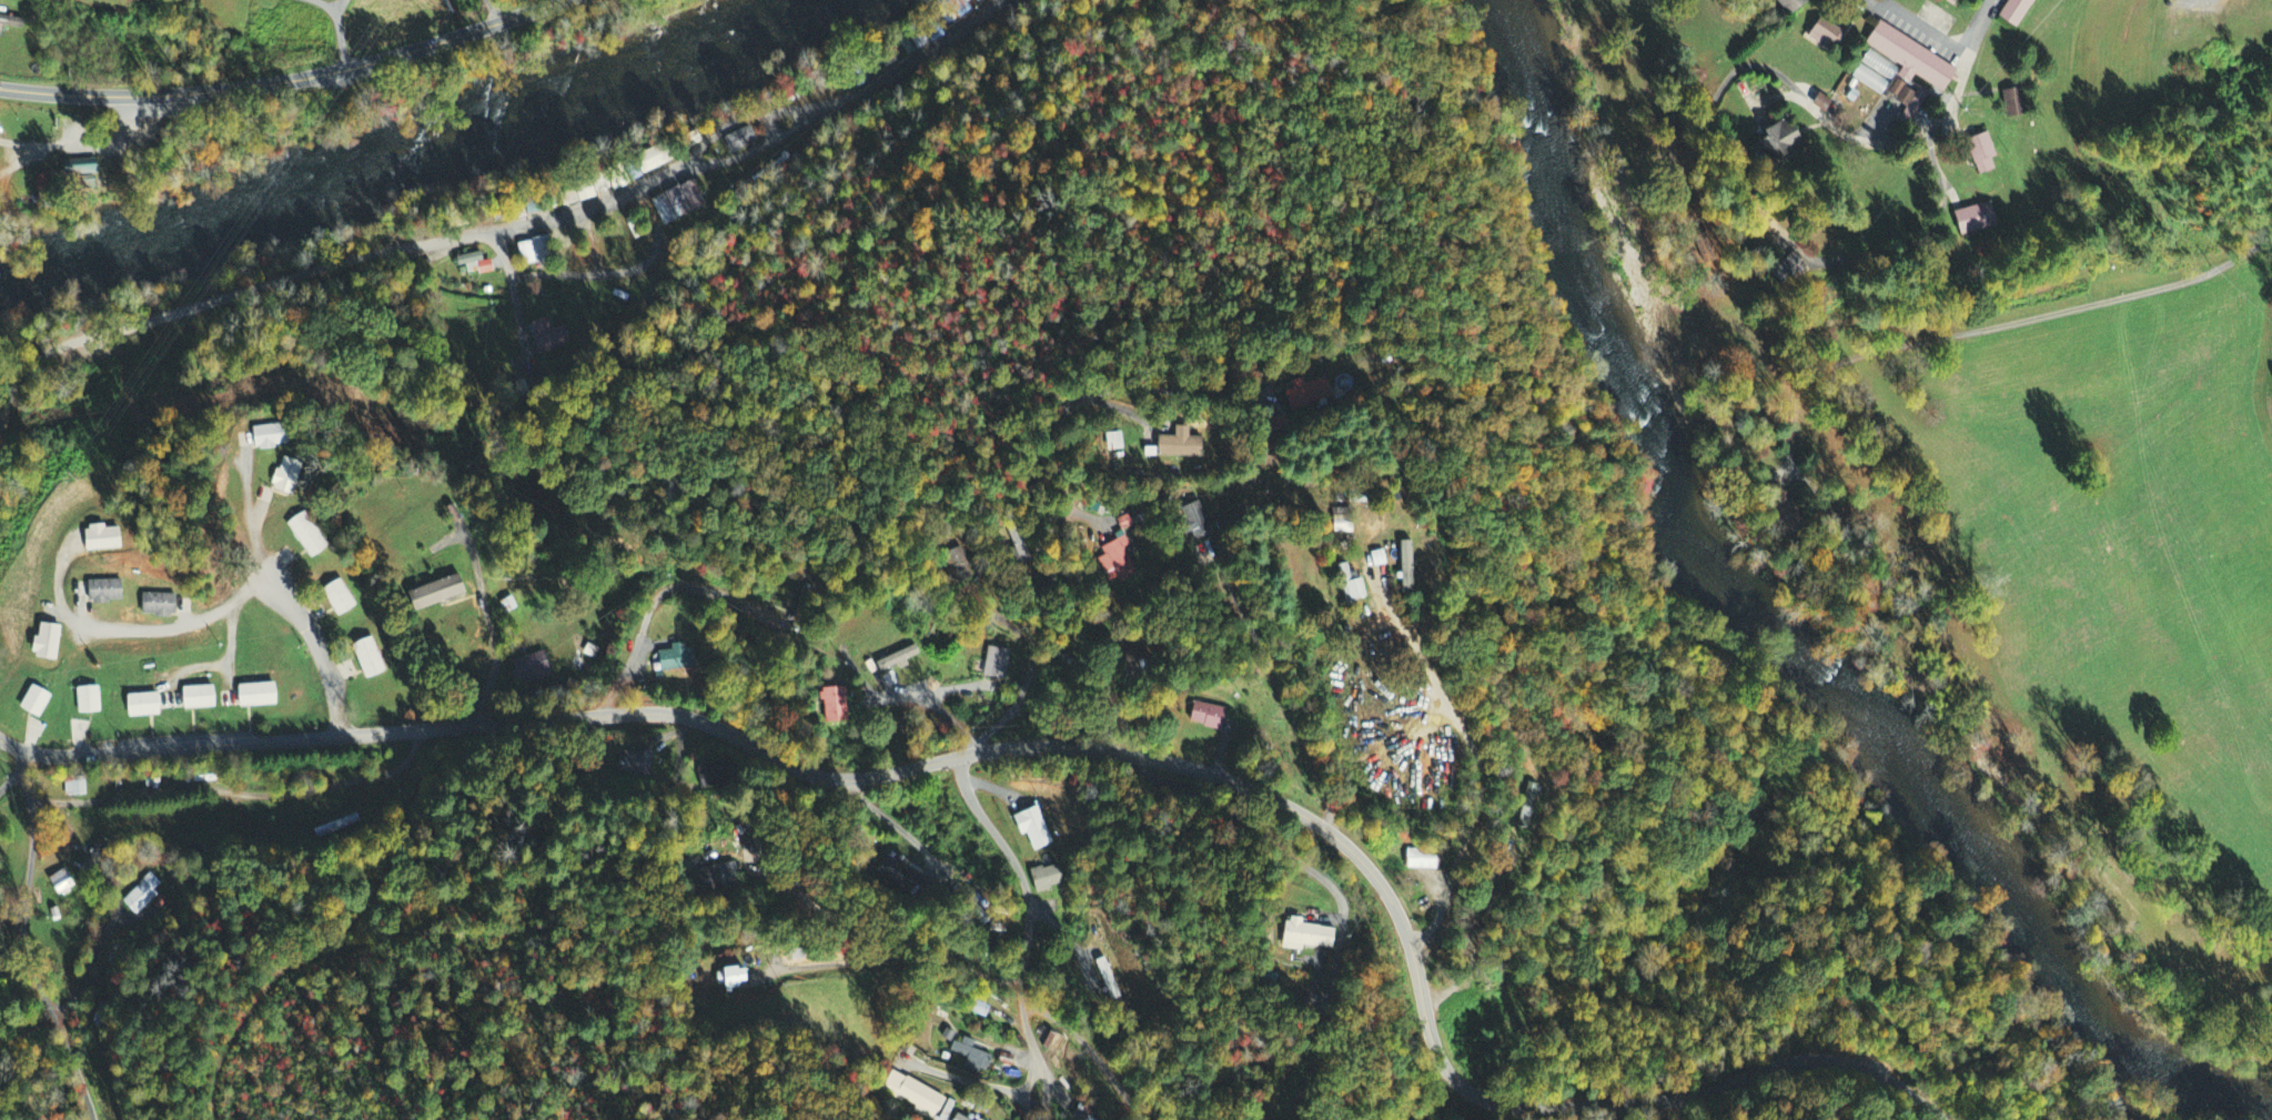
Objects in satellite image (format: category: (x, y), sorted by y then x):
building: (970, 1)
building: (1781, 6)
building: (959, 8)
building: (2016, 12)
building: (12, 23)
building: (1824, 36)
building: (1898, 71)
road: (282, 82)
river: (548, 87)
building: (1818, 103)
building: (2012, 104)
building: (741, 141)
building: (1773, 142)
building: (1978, 154)
building: (89, 168)
building: (678, 203)
river: (180, 205)
building: (1970, 220)
river: (17, 248)
building: (537, 253)
building: (477, 265)
building: (1789, 271)
road: (2042, 313)
building: (549, 337)
building: (1305, 394)
building: (273, 437)
building: (1110, 443)
building: (1175, 446)
building: (290, 477)
building: (1776, 508)
building: (1190, 522)
building: (304, 533)
building: (105, 539)
building: (1117, 556)
building: (1375, 561)
river: (1757, 562)
building: (1403, 569)
building: (1347, 585)
building: (100, 587)
building: (432, 588)
building: (335, 593)
building: (154, 601)
building: (801, 604)
road: (293, 619)
road: (179, 623)
road: (491, 625)
building: (50, 643)
building: (365, 654)
building: (674, 659)
building: (895, 660)
building: (994, 665)
building: (532, 669)
building: (193, 692)
building: (254, 692)
building: (84, 697)
building: (31, 698)
building: (139, 703)
building: (834, 706)
building: (1205, 717)
road: (1063, 747)
building: (635, 764)
building: (710, 776)
building: (77, 789)
road: (240, 793)
building: (1029, 829)
building: (1420, 861)
building: (898, 875)
road: (1021, 875)
building: (1048, 879)
building: (715, 880)
building: (62, 882)
building: (143, 896)
building: (1304, 937)
road: (41, 938)
building: (726, 980)
building: (1108, 980)
building: (977, 1010)
road: (1092, 1051)
building: (970, 1057)
road: (1043, 1072)
river: (2209, 1083)
building: (913, 1094)
building: (957, 1118)

